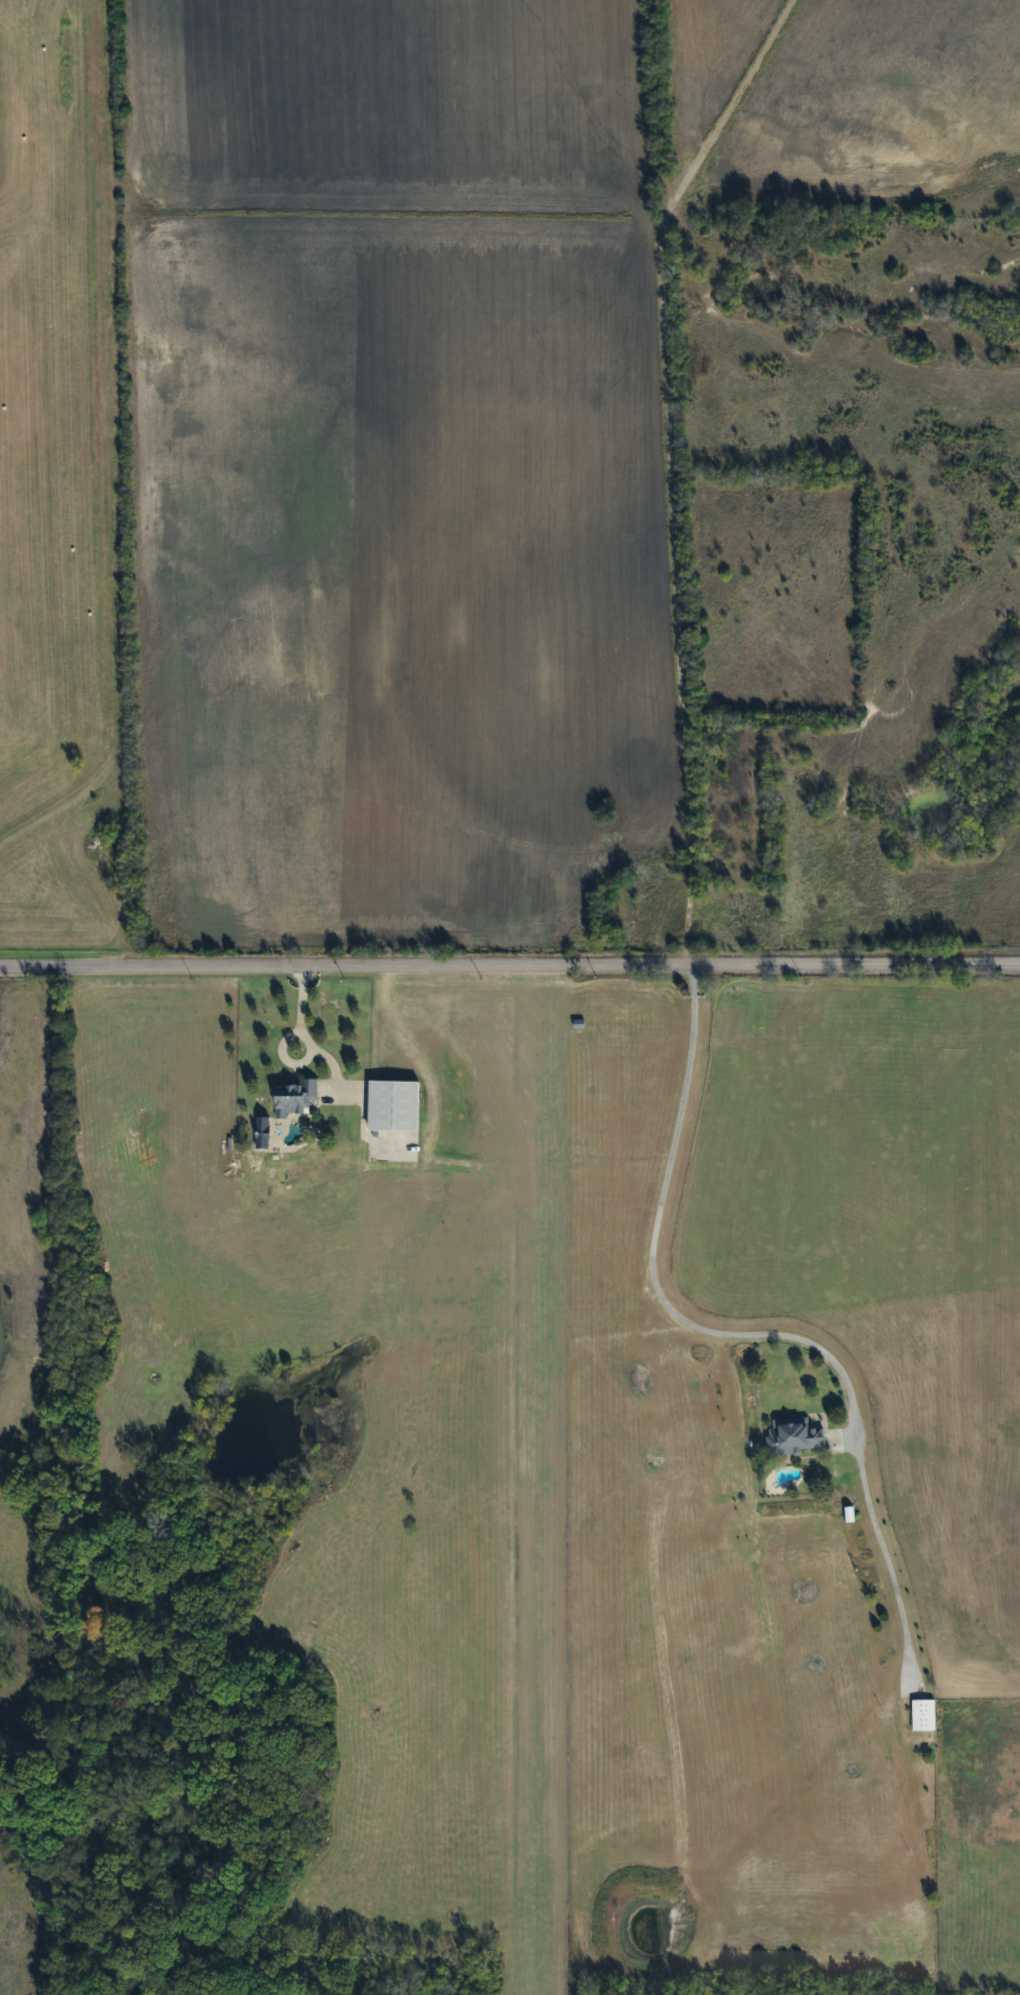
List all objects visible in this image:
road: (743, 88)
road: (673, 565)
road: (510, 964)
road: (297, 1009)
building: (292, 1096)
building: (391, 1105)
road: (652, 1266)
building: (792, 1435)
building: (921, 1715)

